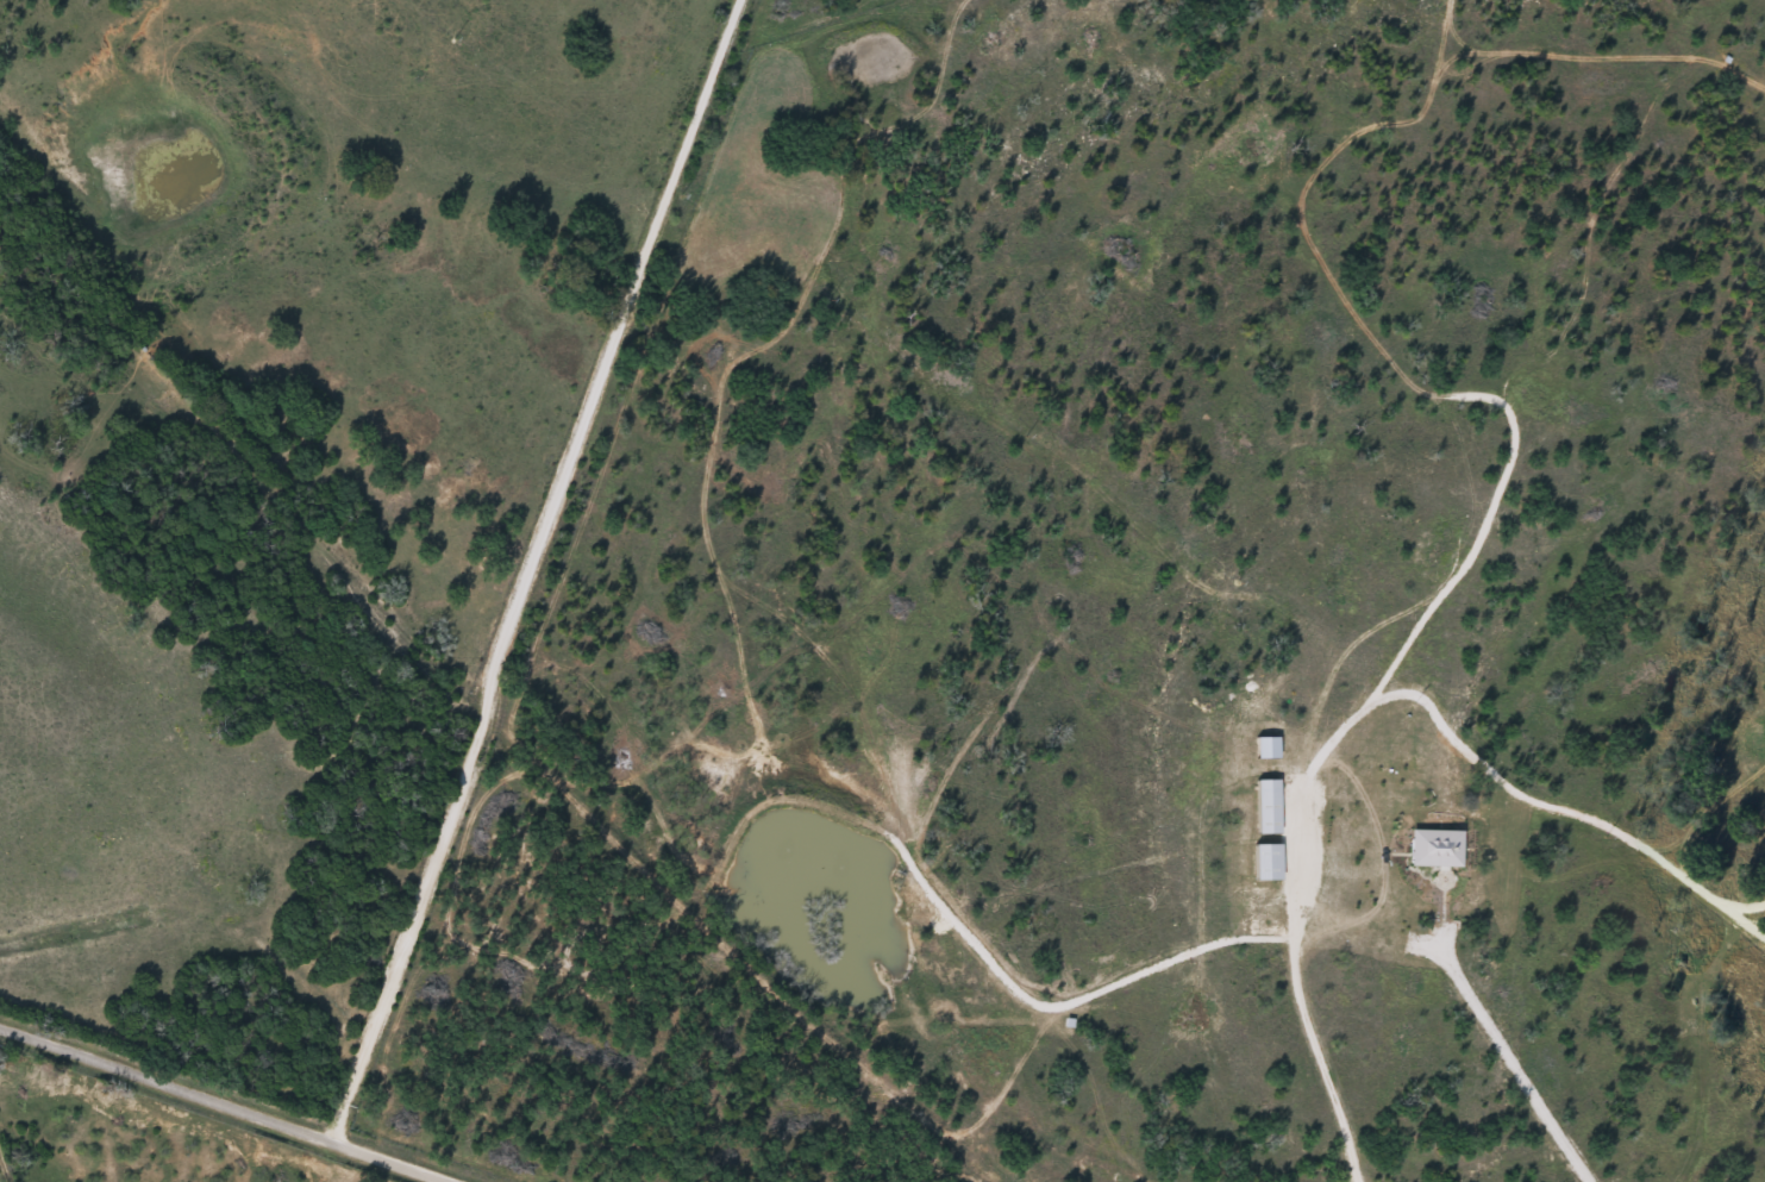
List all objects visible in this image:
road: (549, 573)
railway: (488, 687)
road: (224, 1106)

